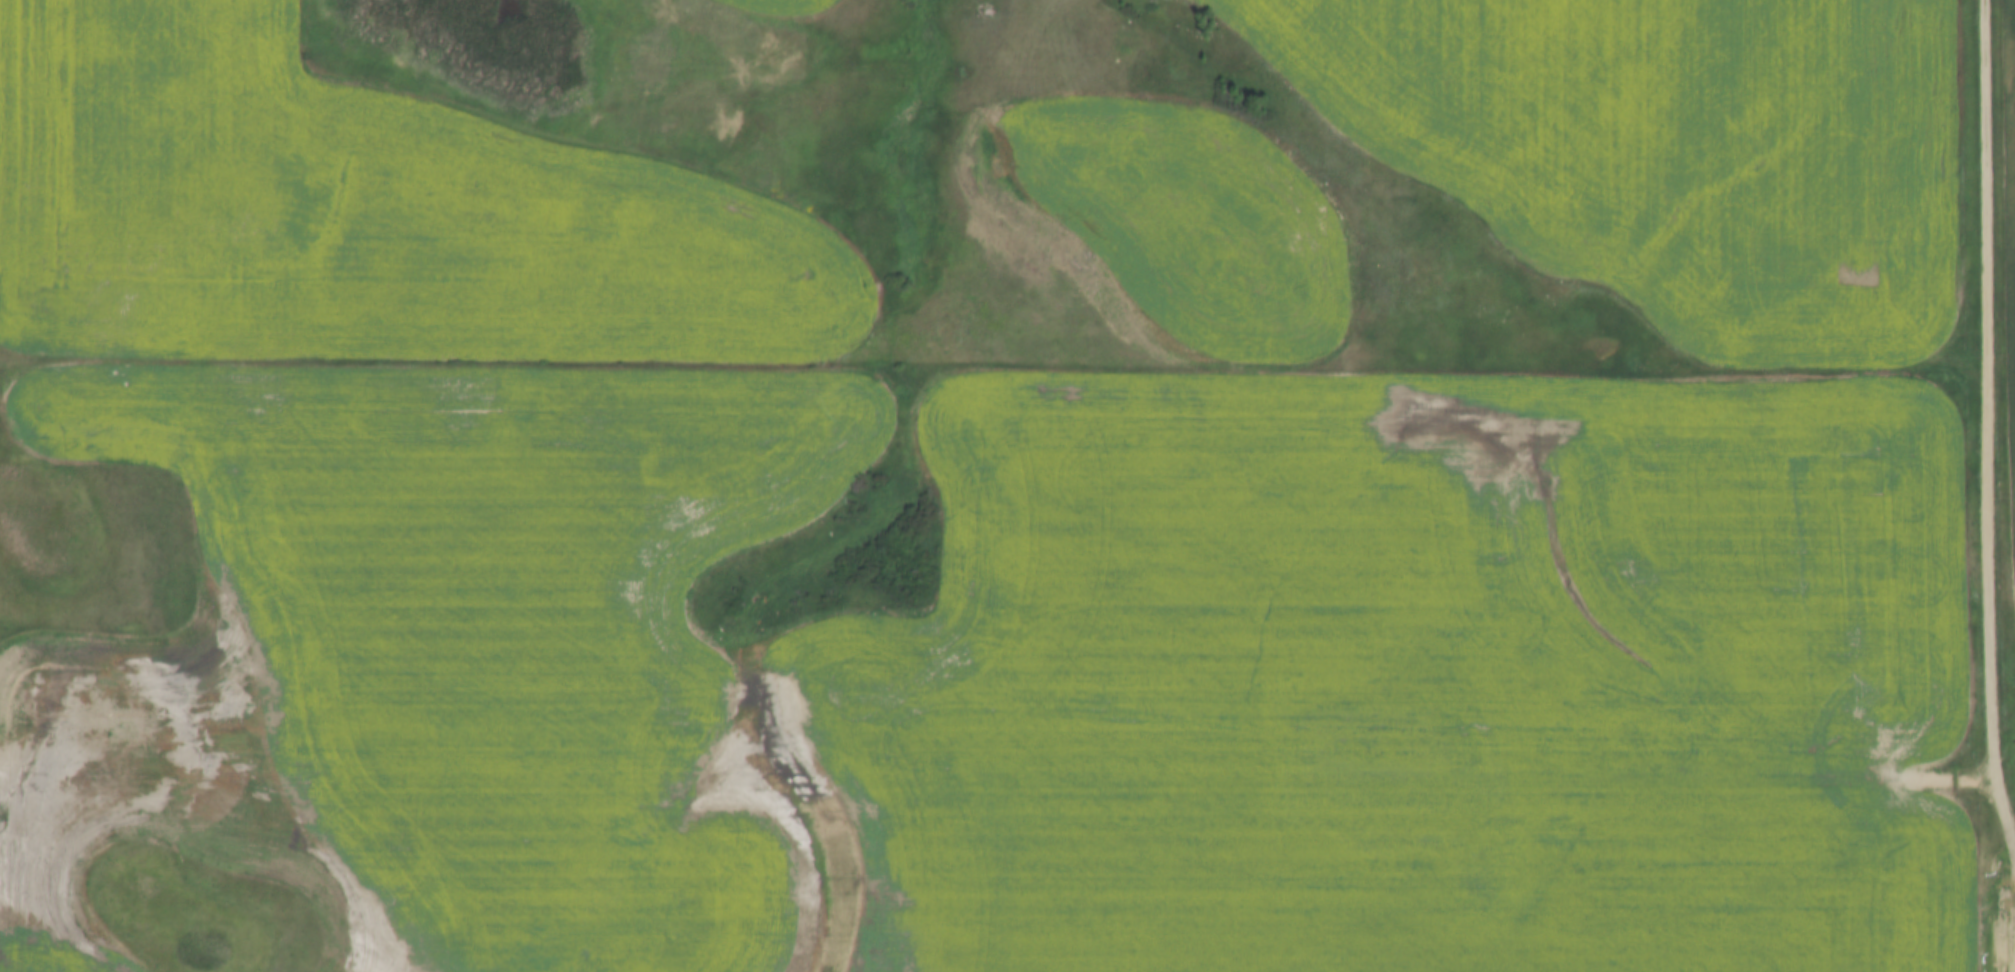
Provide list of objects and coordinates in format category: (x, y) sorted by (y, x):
road: (1986, 425)
road: (1692, 774)

